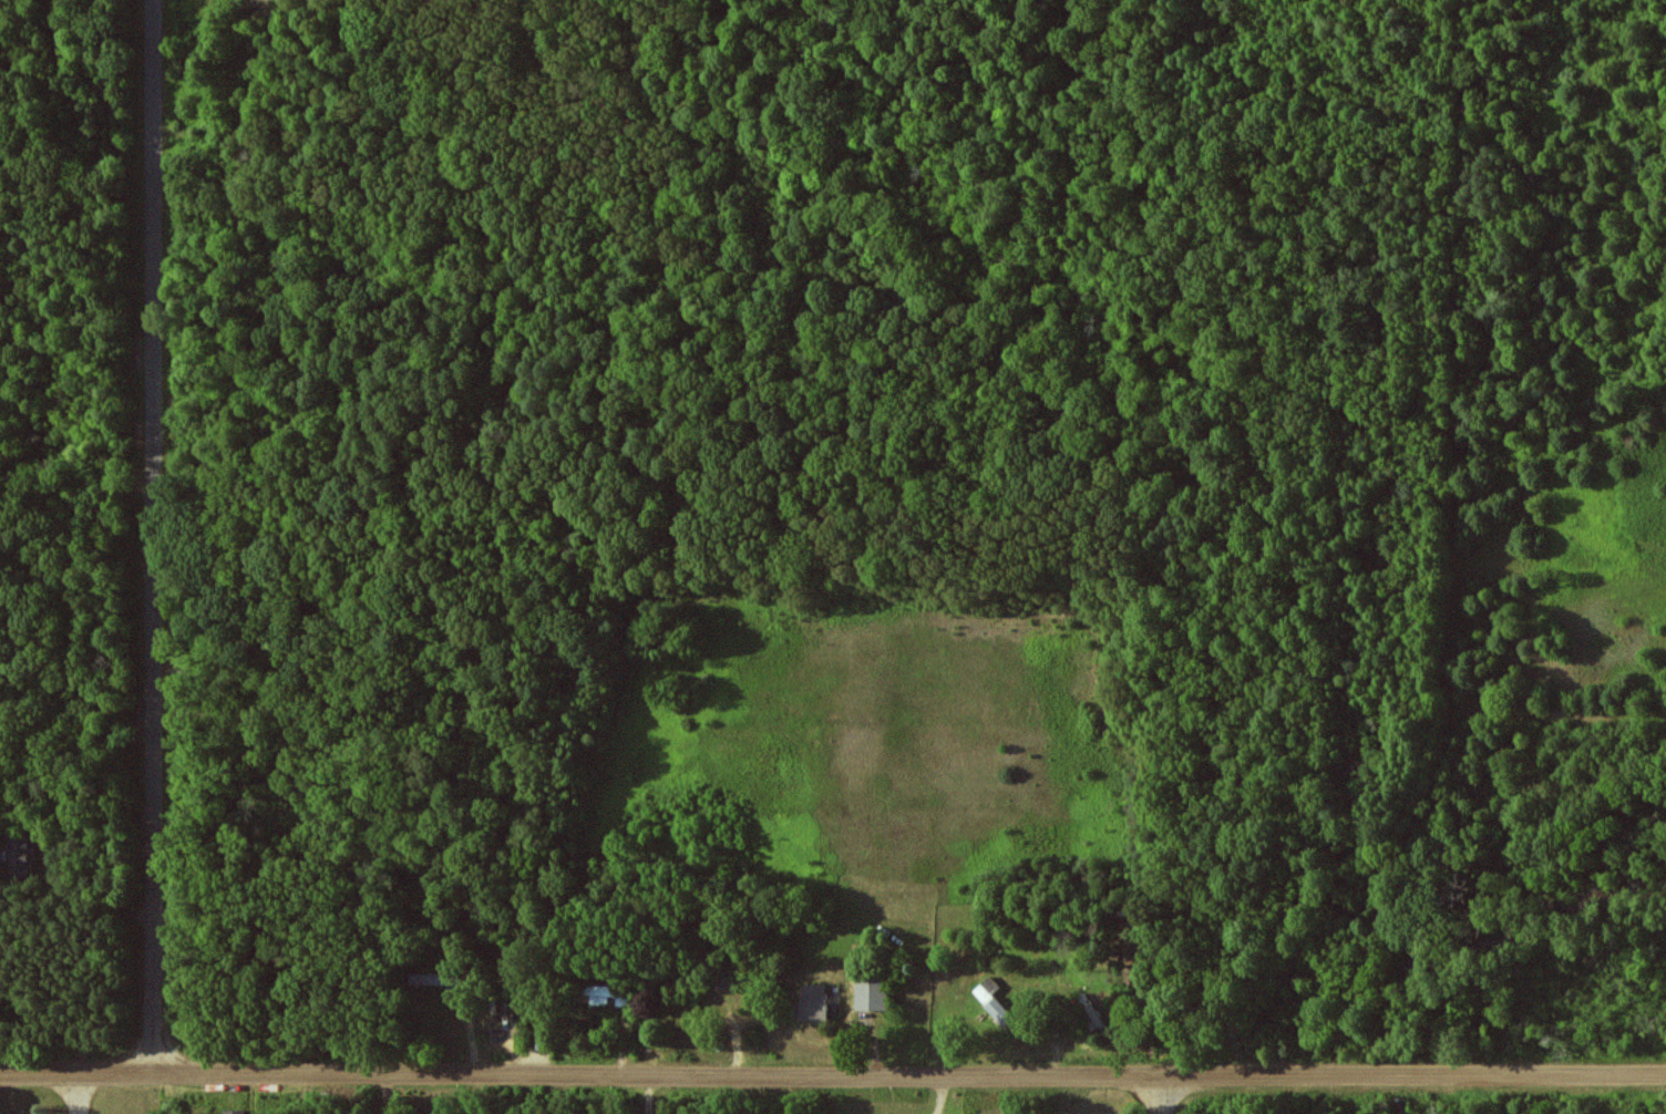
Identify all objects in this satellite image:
road: (155, 537)
building: (22, 855)
building: (432, 978)
building: (872, 992)
building: (600, 993)
building: (997, 1001)
road: (833, 1079)
road: (85, 1094)
road: (1160, 1096)
building: (233, 1112)

